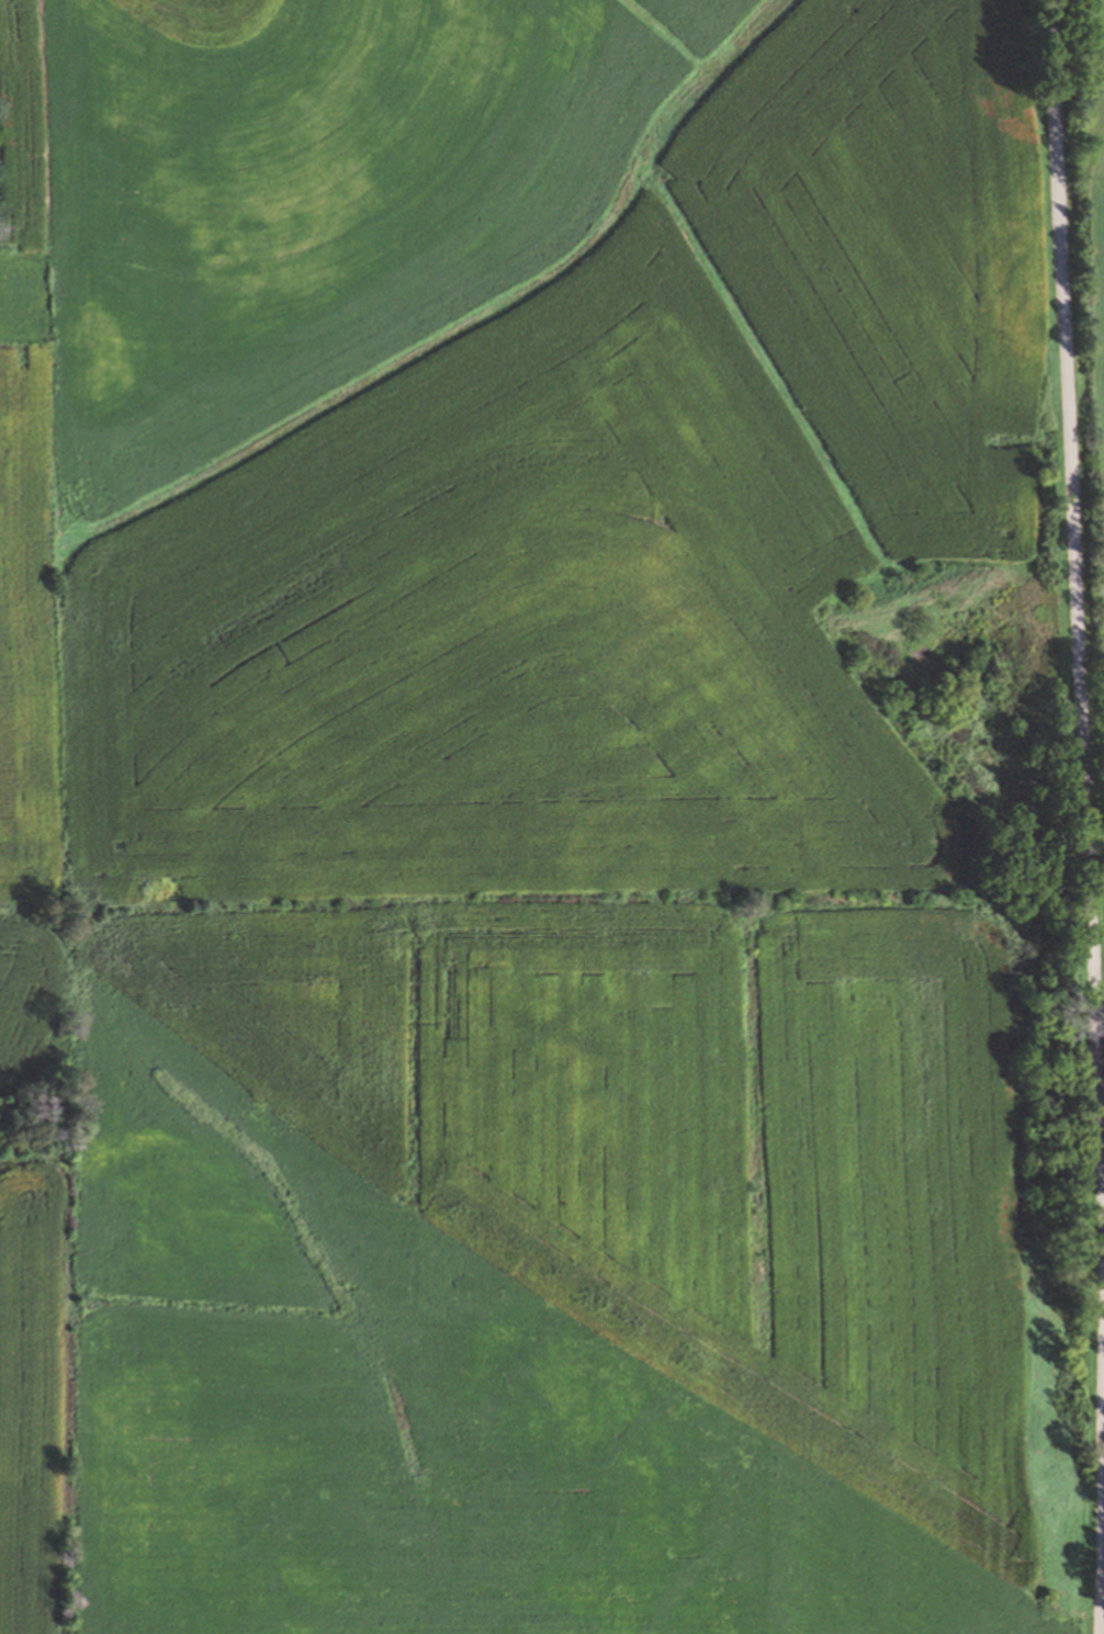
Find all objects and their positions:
road: (1084, 816)

